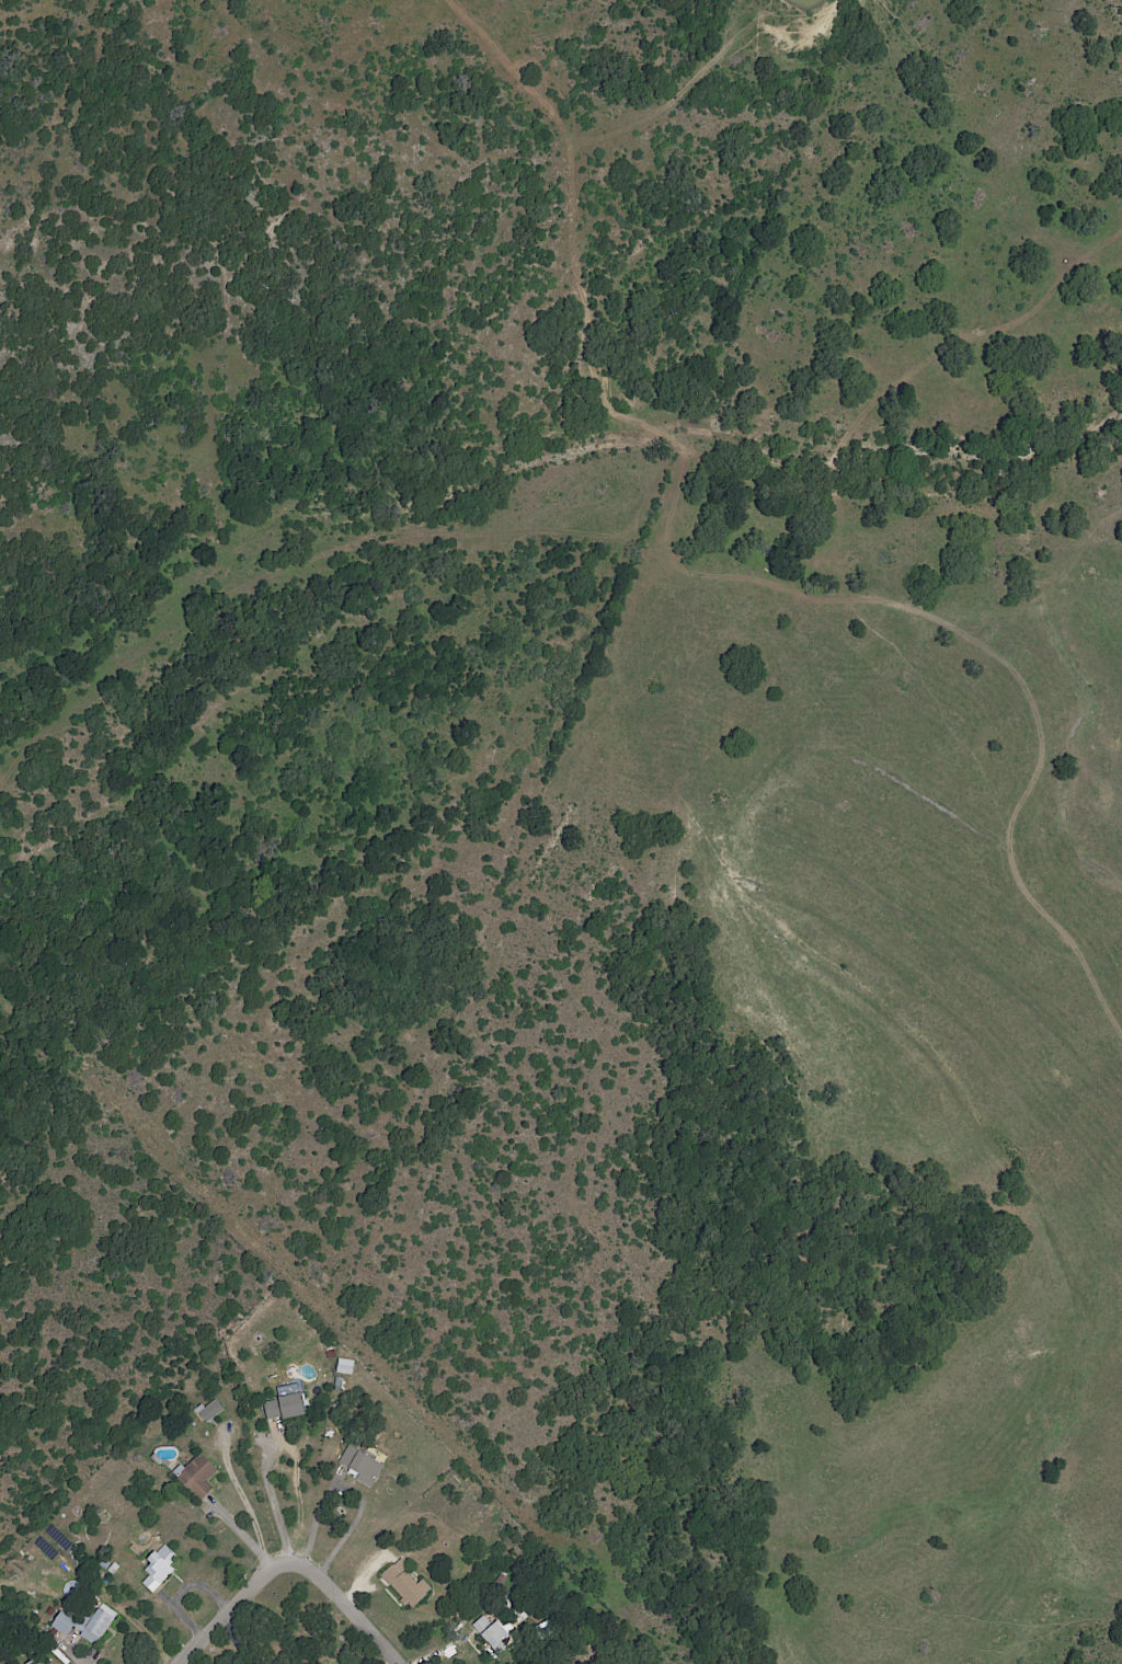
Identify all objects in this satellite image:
building: (344, 1367)
building: (209, 1411)
building: (360, 1466)
building: (196, 1476)
road: (350, 1492)
road: (242, 1500)
road: (275, 1508)
road: (286, 1561)
building: (158, 1569)
building: (404, 1584)
road: (181, 1591)
building: (101, 1620)
building: (493, 1634)

